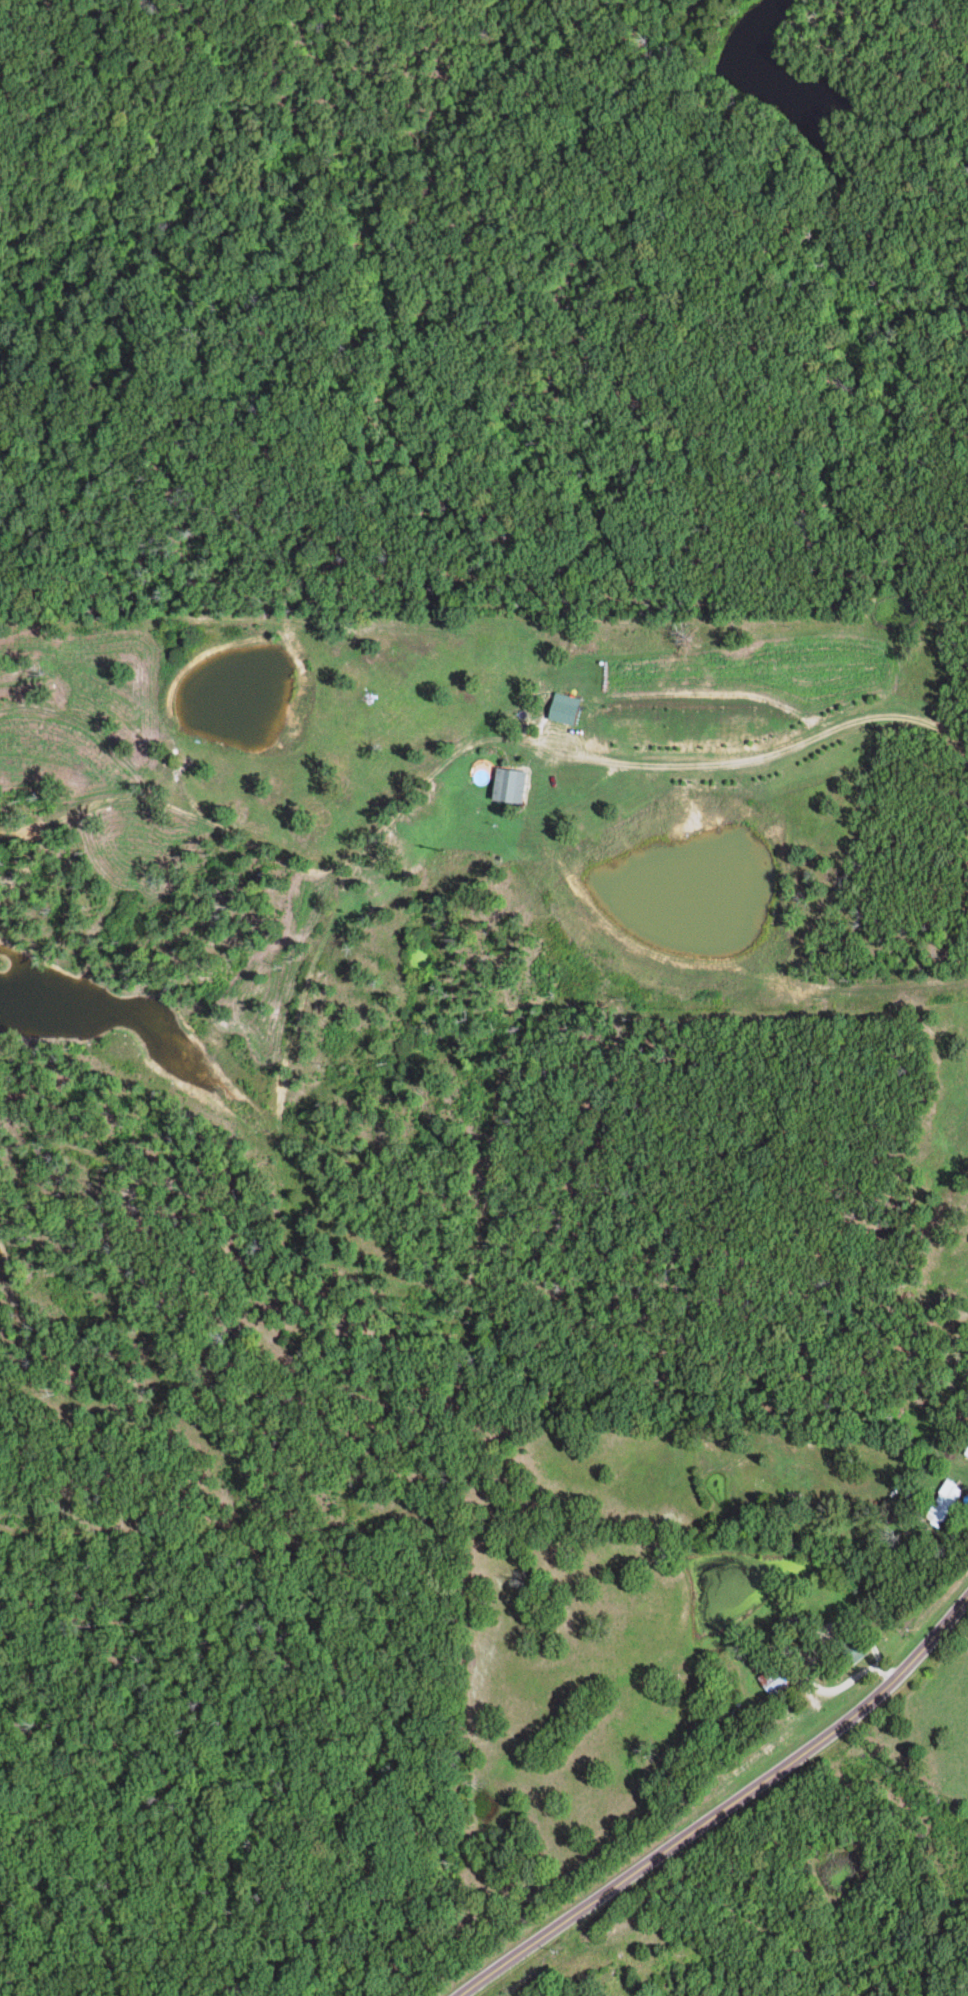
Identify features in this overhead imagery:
building: (569, 708)
building: (514, 784)
building: (947, 1503)
road: (731, 1810)

